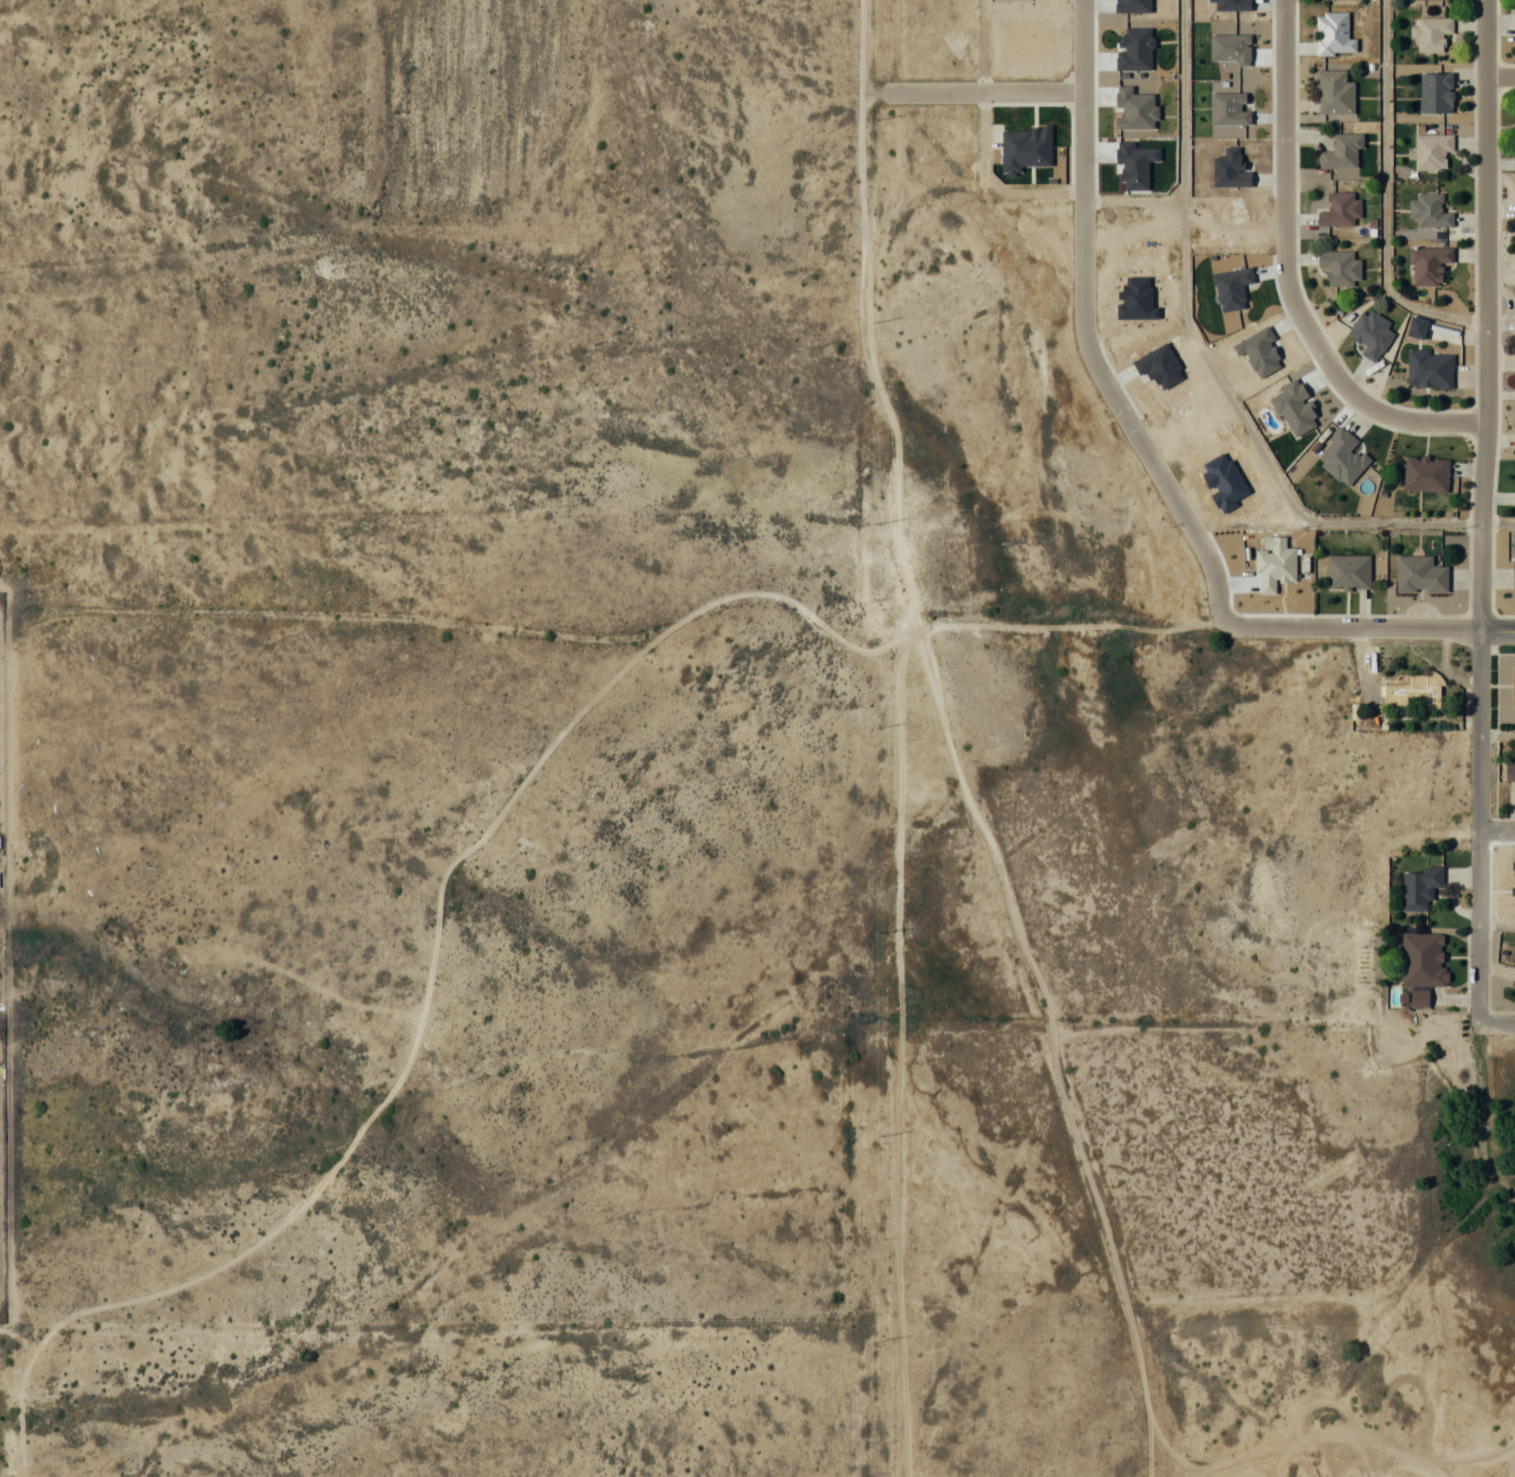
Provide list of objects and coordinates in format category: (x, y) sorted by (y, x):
building: (1333, 33)
building: (1429, 33)
road: (982, 45)
road: (1499, 77)
road: (982, 91)
building: (1334, 92)
building: (1436, 92)
building: (1341, 150)
building: (1431, 150)
road: (1385, 198)
building: (1340, 209)
building: (1429, 211)
building: (1428, 264)
building: (1340, 266)
road: (1286, 276)
road: (1484, 314)
road: (1084, 332)
building: (1371, 334)
road: (1208, 358)
building: (1429, 369)
building: (1342, 457)
road: (1497, 522)
building: (1347, 572)
building: (1513, 574)
building: (1420, 575)
road: (1355, 628)
road: (1497, 629)
building: (1513, 687)
building: (1413, 692)
road: (1497, 735)
building: (1509, 770)
road: (1479, 826)
road: (1497, 830)
road: (477, 839)
building: (1420, 887)
road: (1496, 924)
building: (1423, 959)
building: (1514, 980)
building: (1417, 998)
road: (1496, 1023)
road: (385, 1099)

